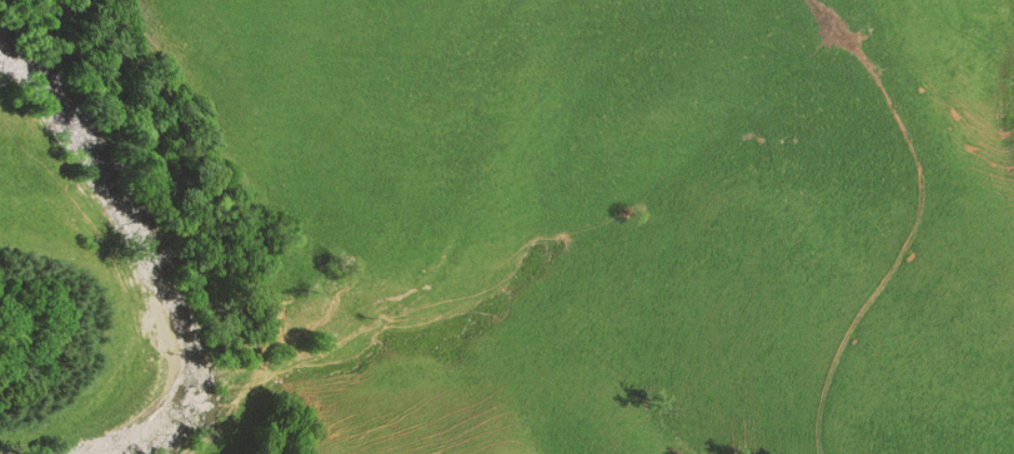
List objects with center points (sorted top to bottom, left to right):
river: (177, 248)

